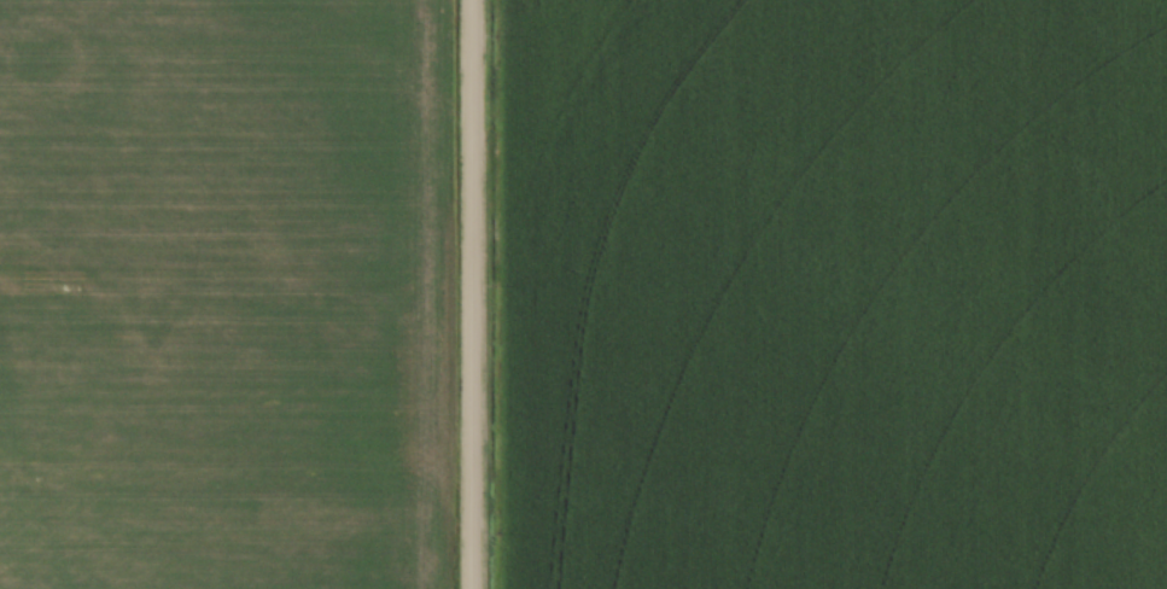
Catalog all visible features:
crop: (220, 294)
road: (469, 294)
crop: (833, 294)

